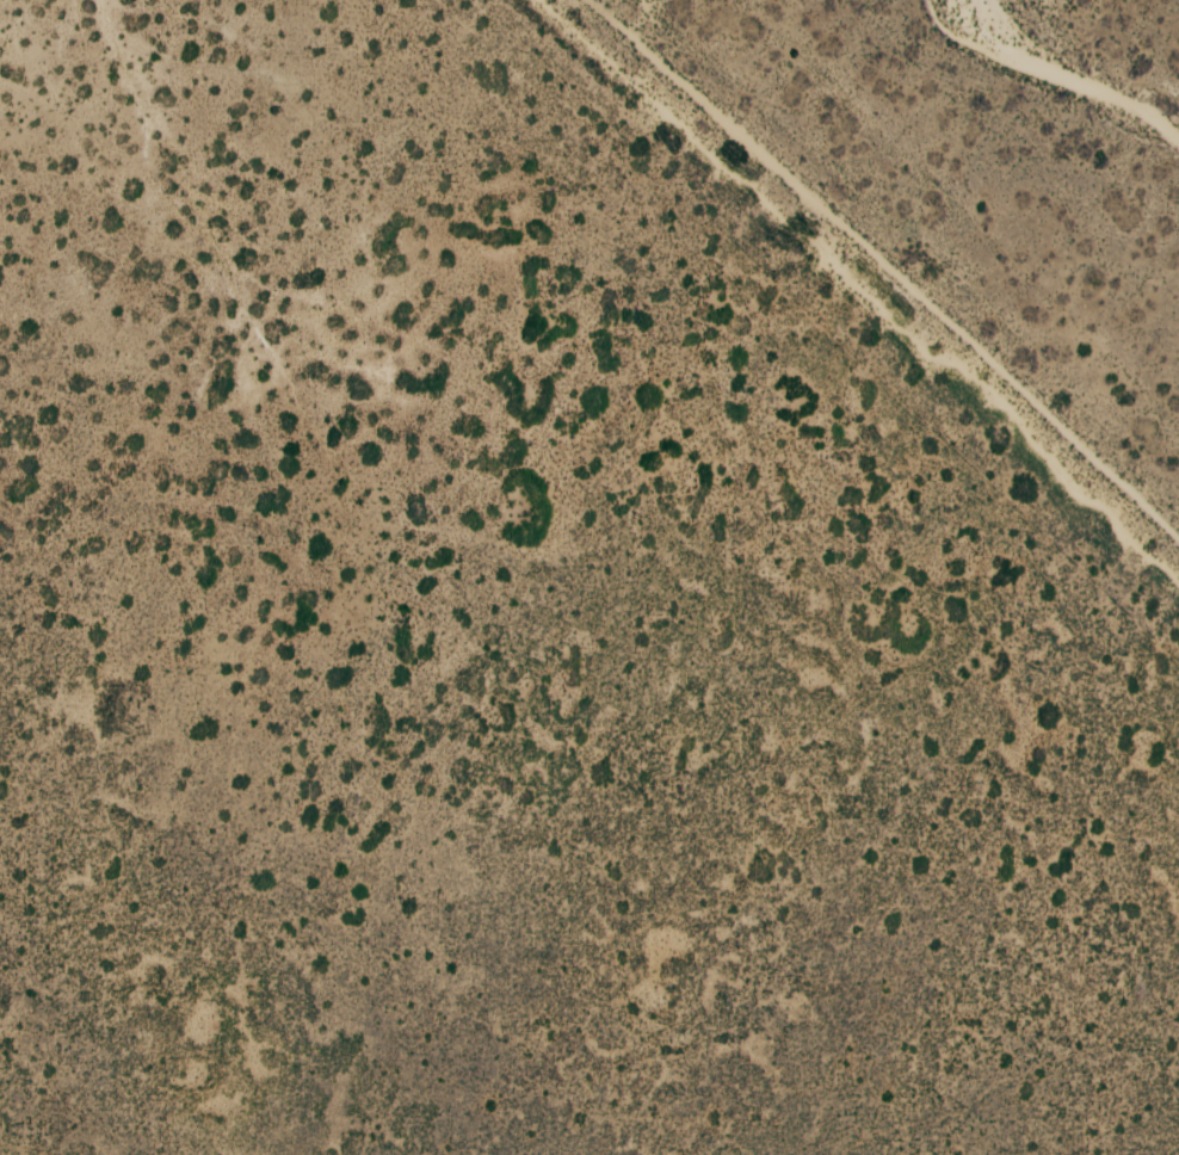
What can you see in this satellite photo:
road: (1, 16)

